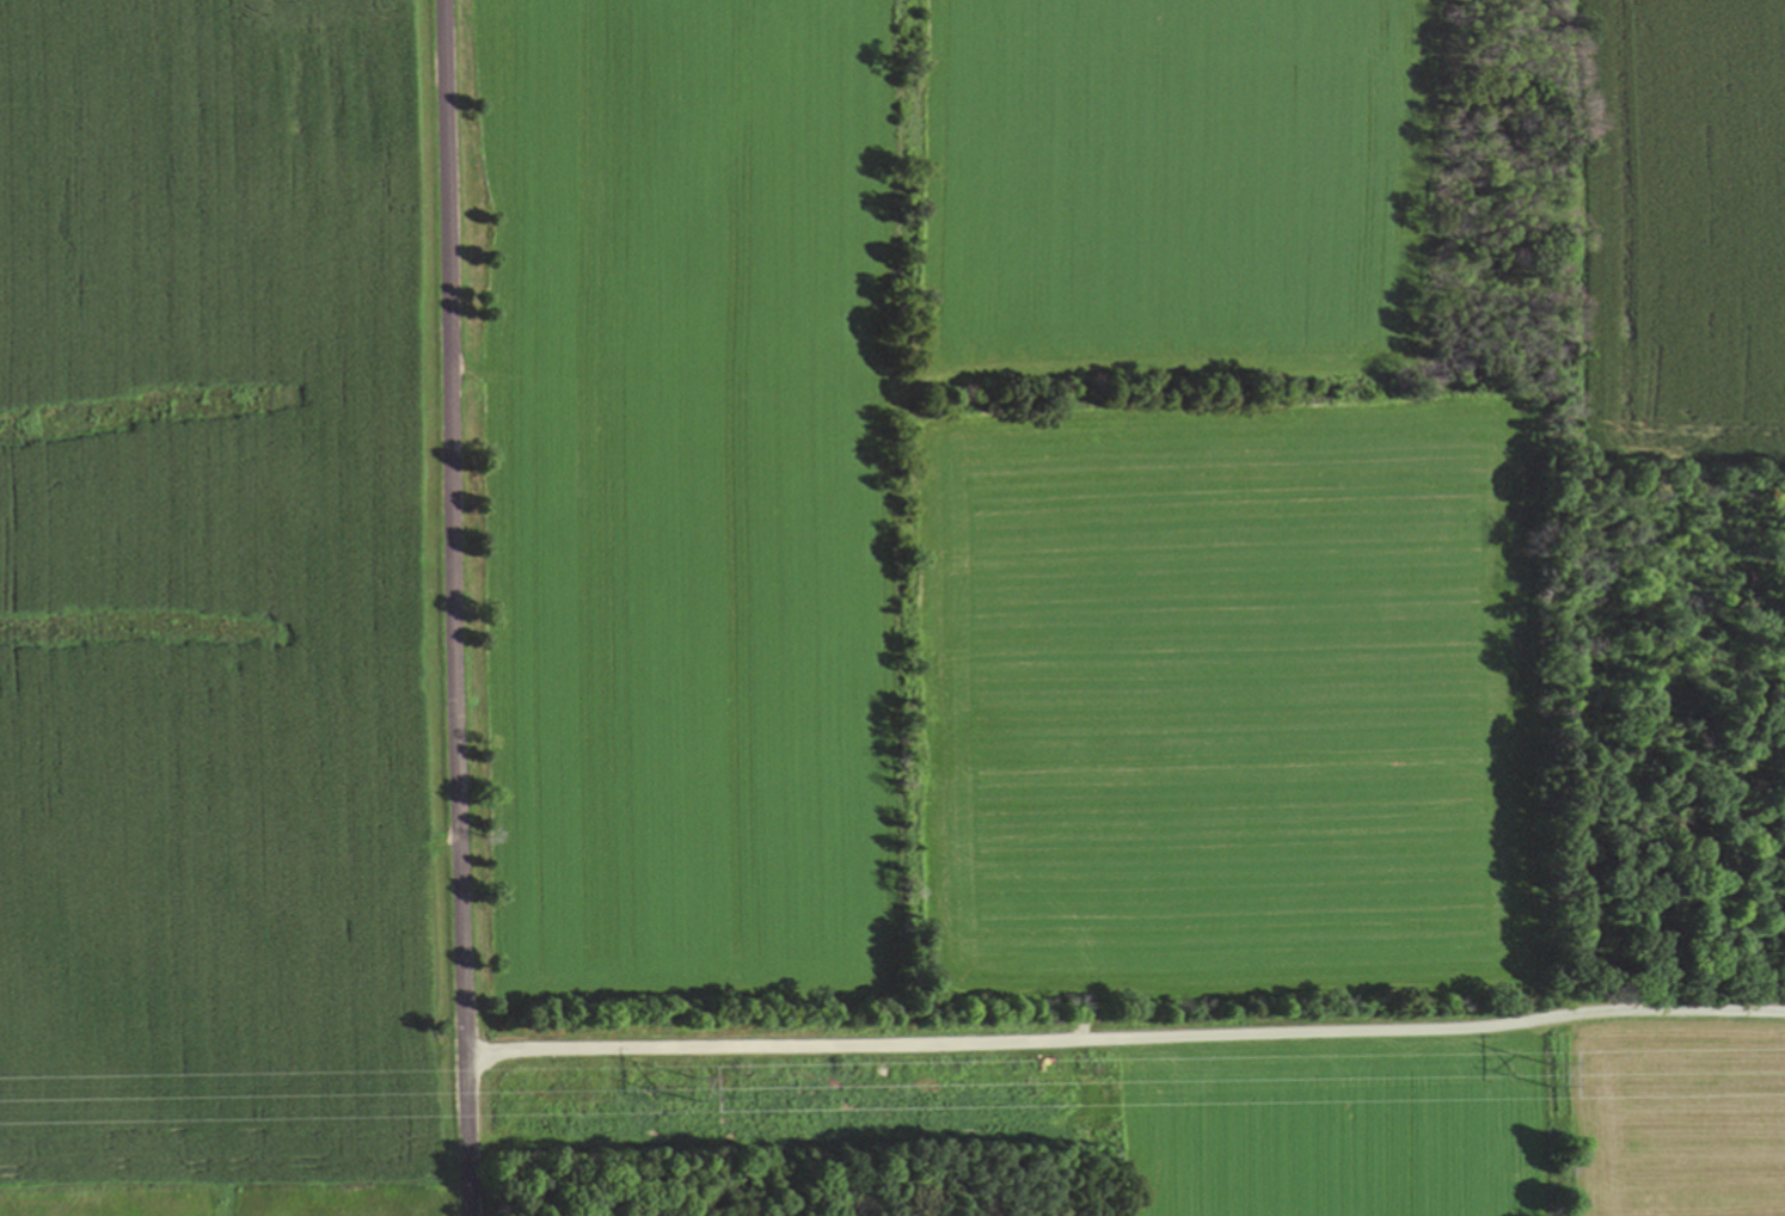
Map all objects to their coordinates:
road: (455, 608)
power tower: (1556, 1075)
power tower: (695, 1089)

